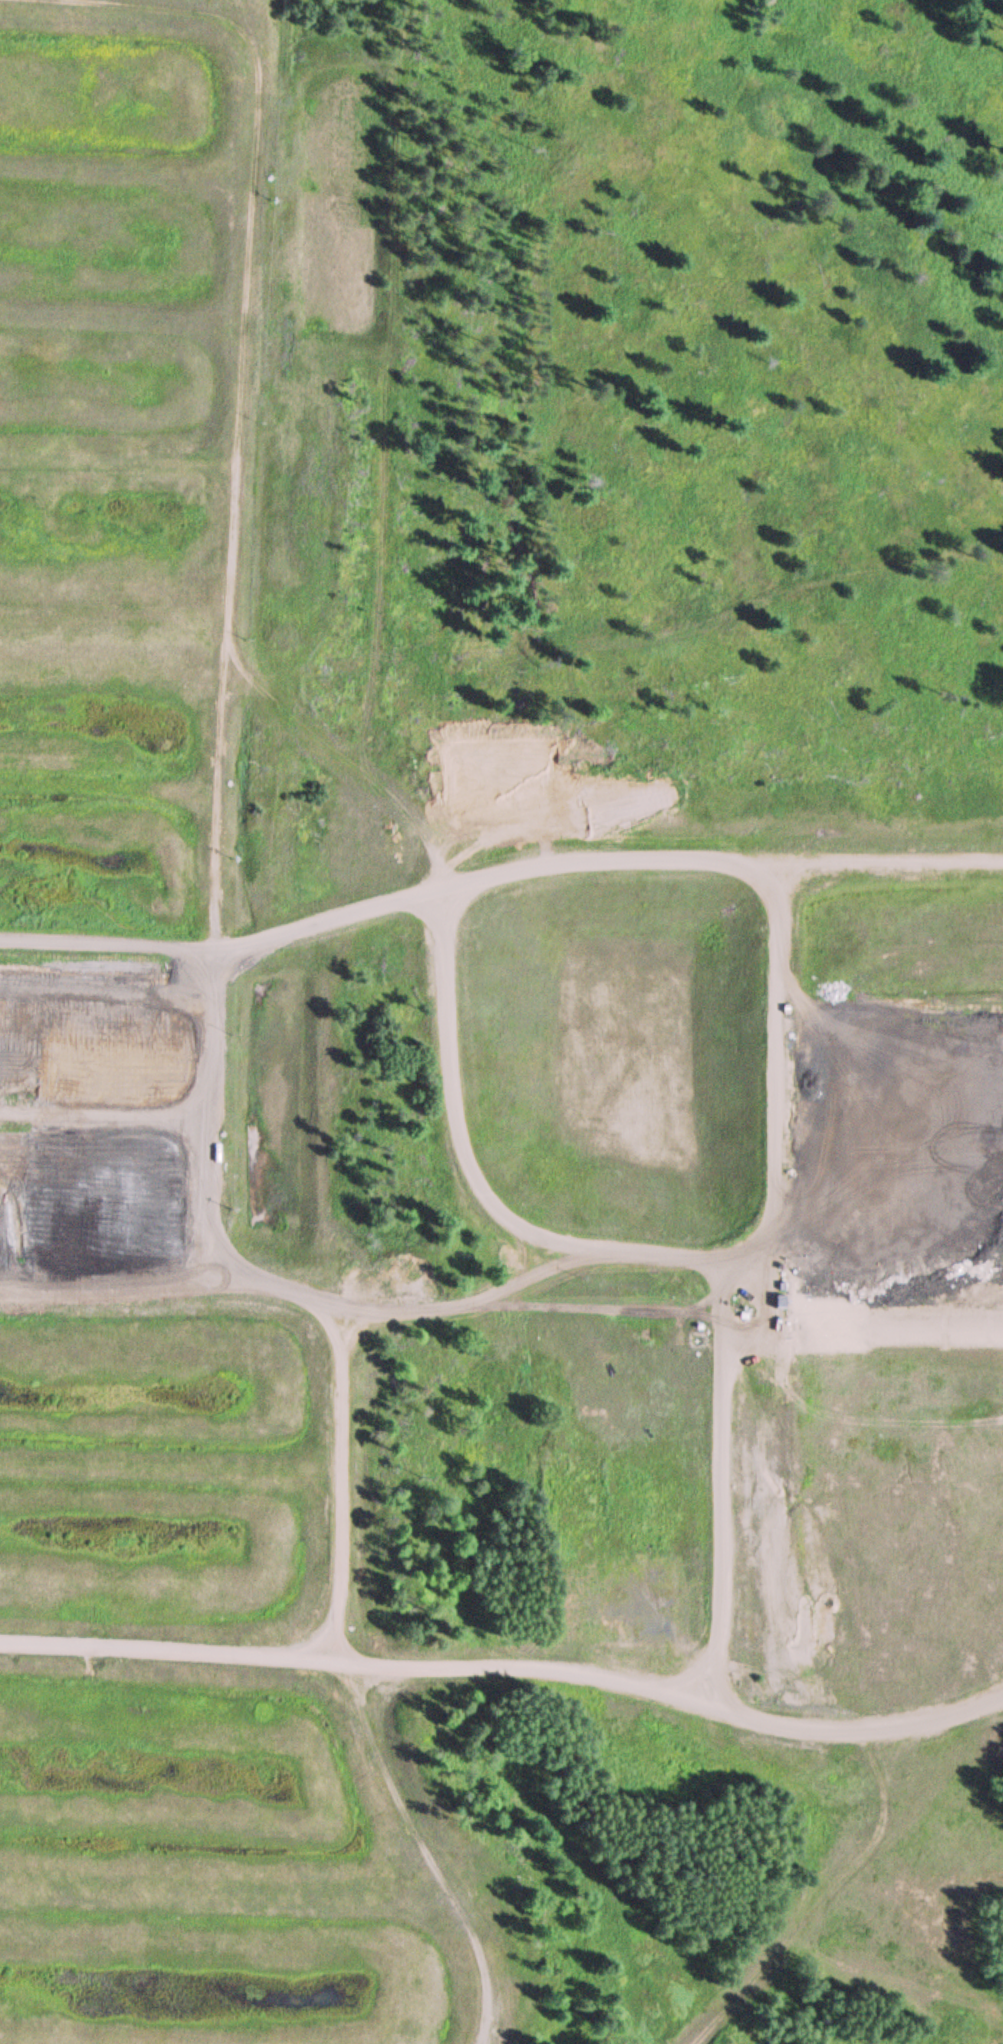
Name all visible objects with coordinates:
road: (497, 874)

